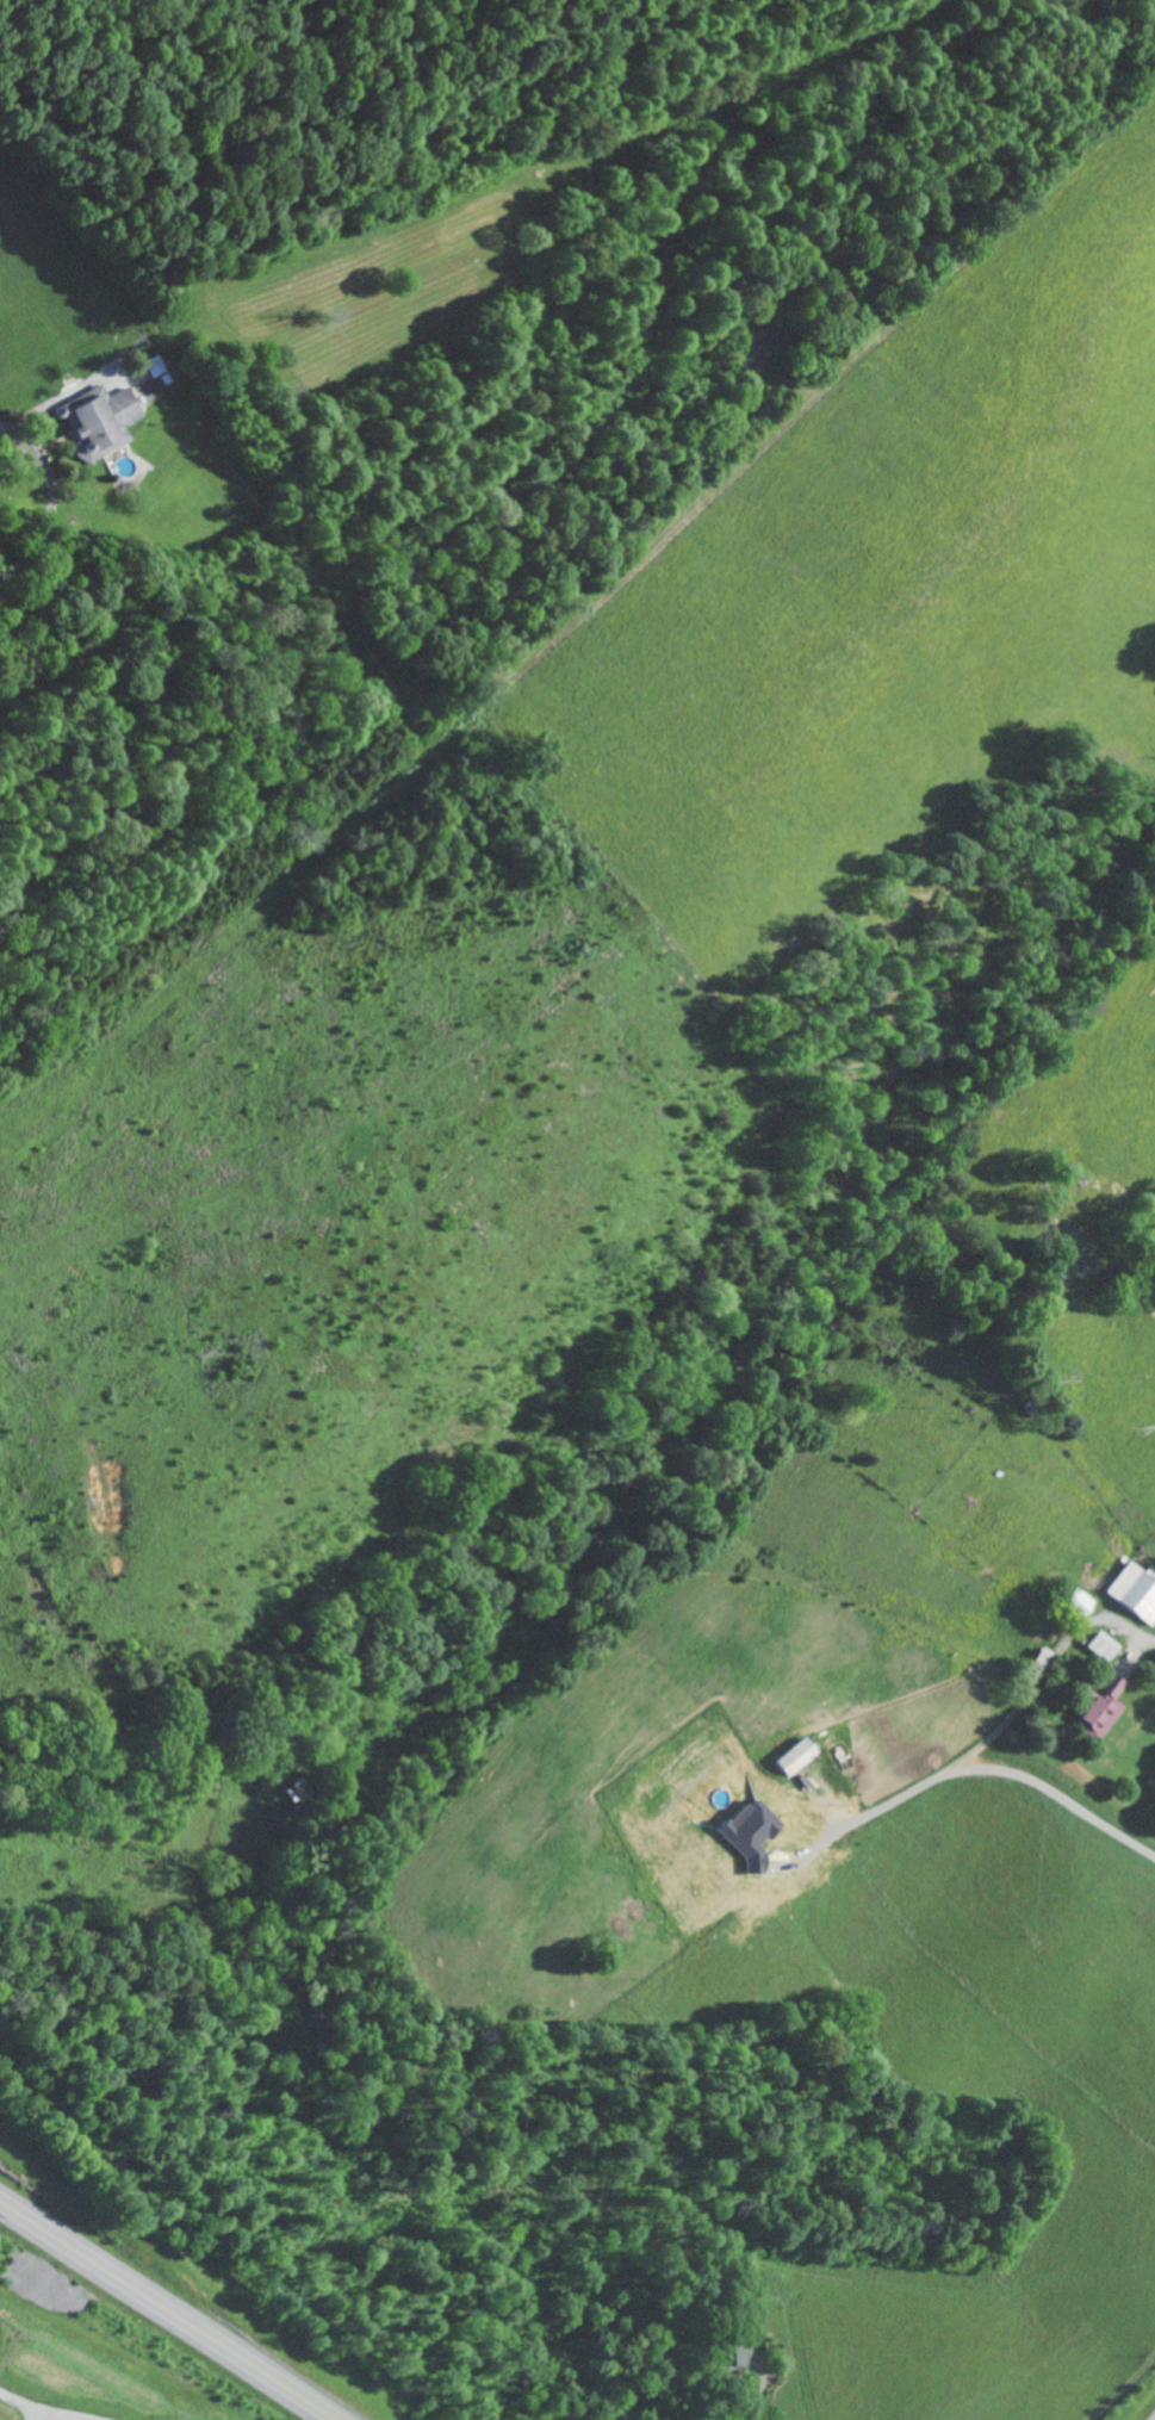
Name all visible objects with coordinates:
building: (162, 365)
building: (106, 420)
building: (1137, 1589)
building: (1082, 1601)
building: (1110, 1704)
road: (1007, 1719)
building: (802, 1755)
building: (759, 1831)
road: (169, 2309)

